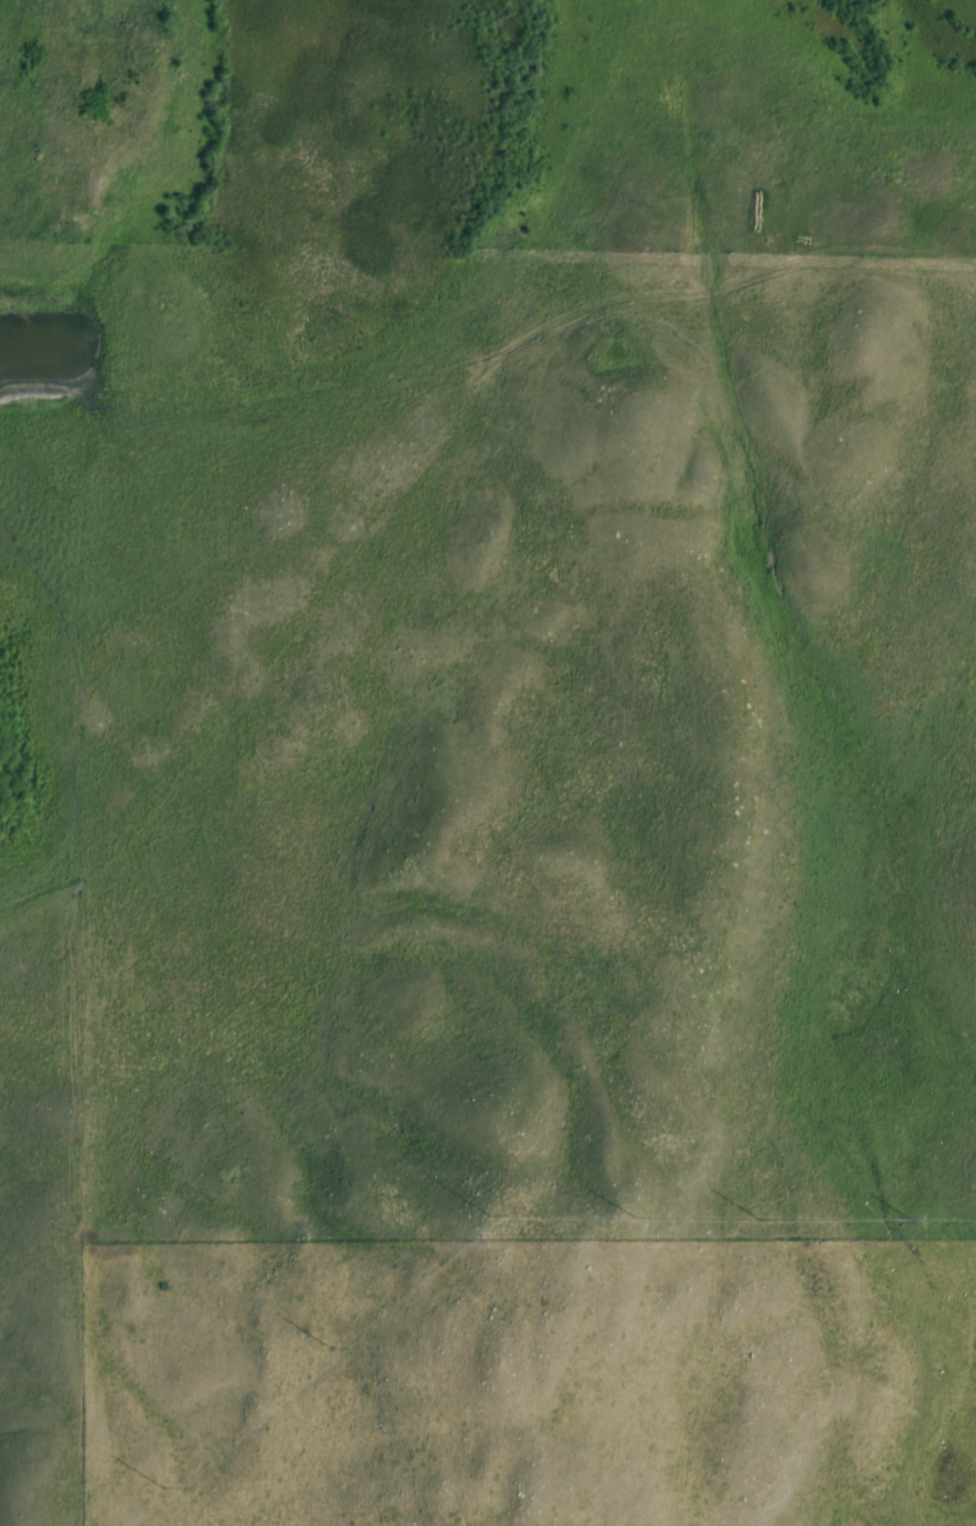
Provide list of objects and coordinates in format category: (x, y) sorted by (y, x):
power tower: (924, 1224)

